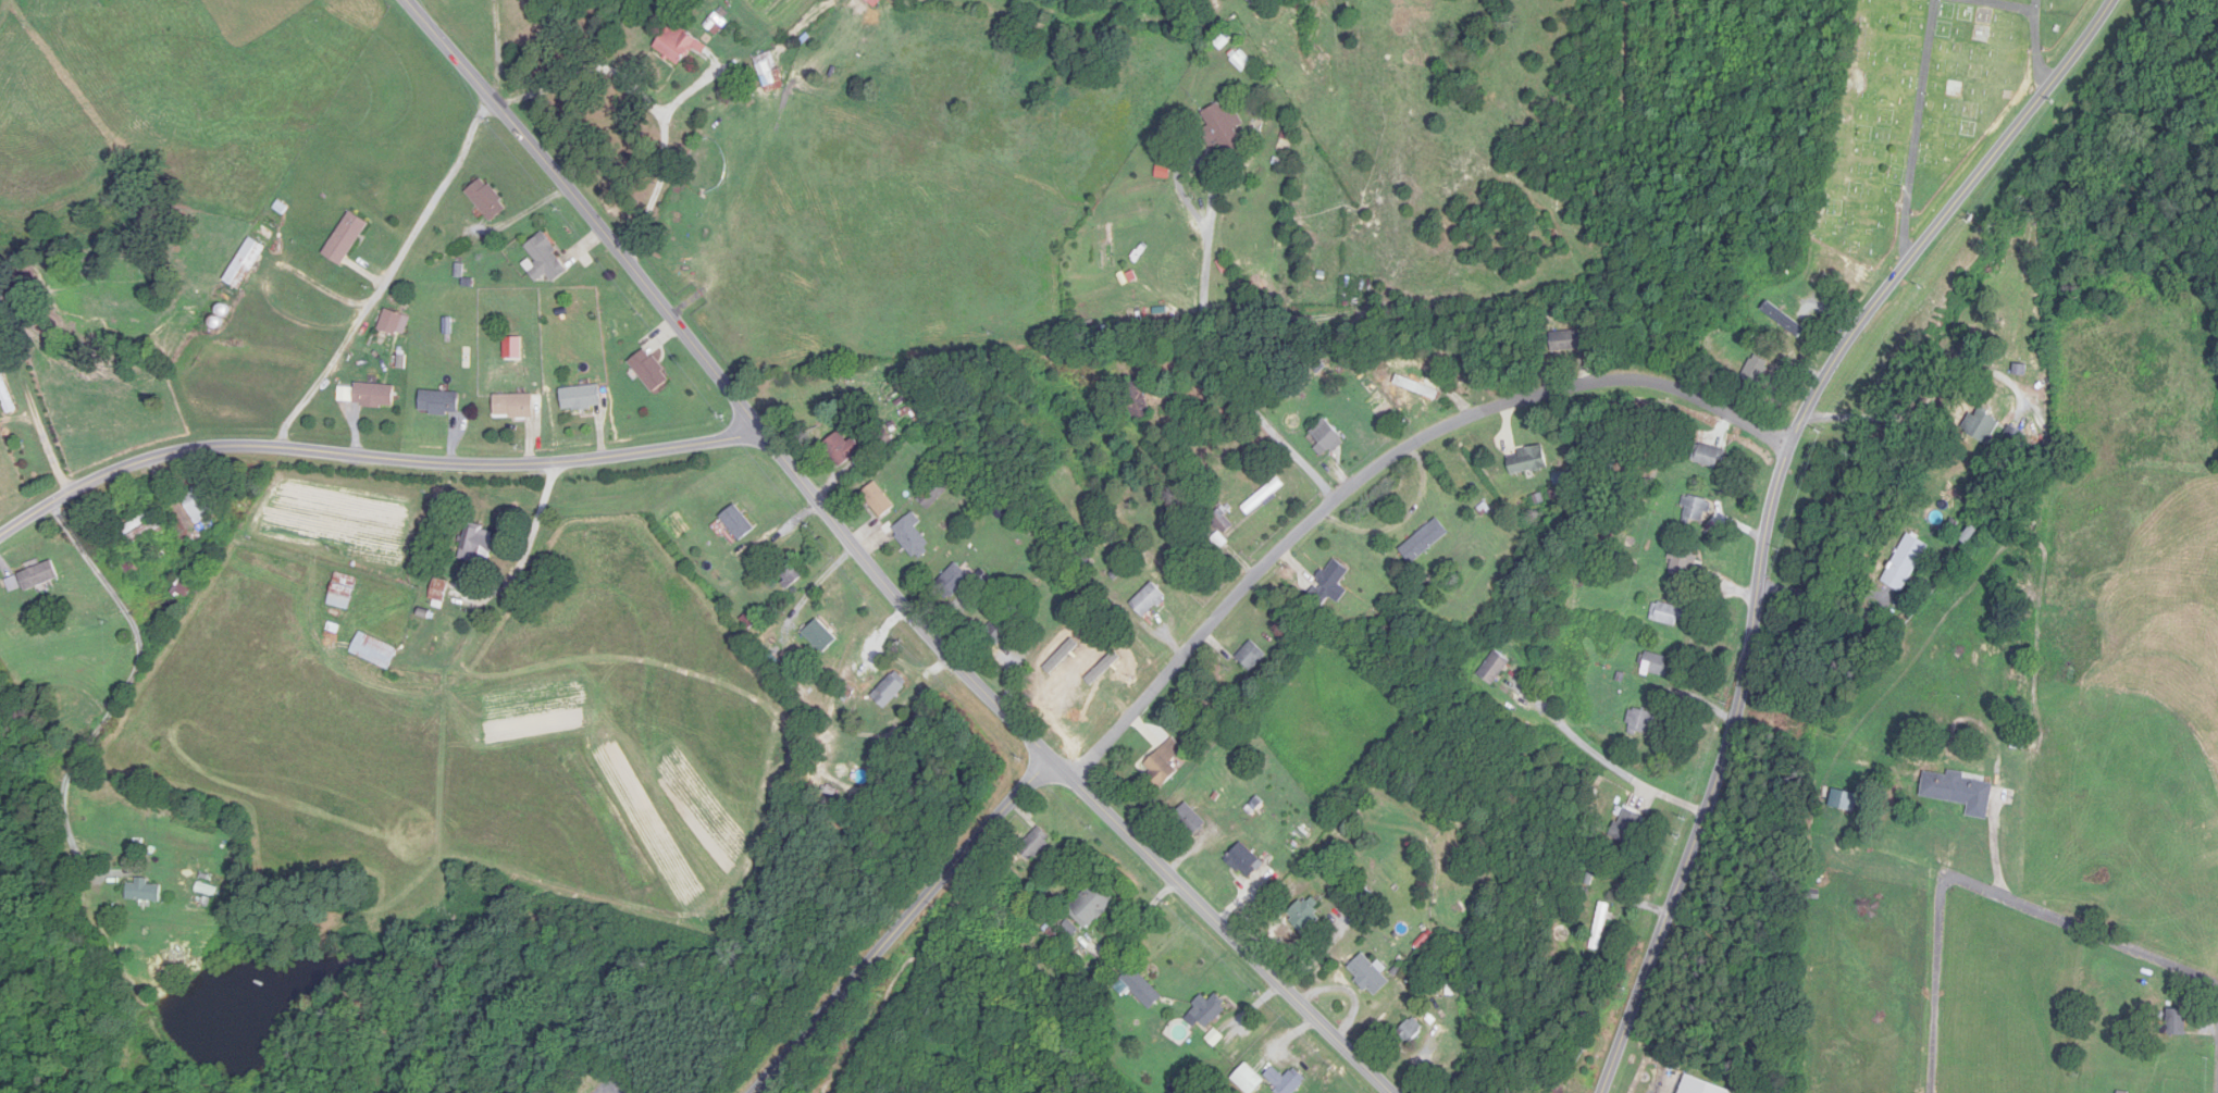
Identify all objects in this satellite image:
building: (679, 45)
road: (498, 47)
building: (1242, 61)
road: (591, 69)
building: (771, 72)
park: (1921, 107)
building: (1222, 128)
road: (664, 159)
road: (1214, 185)
building: (487, 200)
building: (348, 238)
building: (547, 261)
building: (243, 272)
road: (389, 276)
building: (1783, 319)
building: (395, 322)
building: (1566, 340)
building: (2020, 369)
building: (1756, 370)
building: (650, 371)
building: (1420, 384)
building: (5, 395)
building: (375, 395)
building: (581, 397)
building: (1135, 398)
building: (439, 402)
road: (1925, 402)
building: (513, 406)
road: (1264, 415)
building: (1983, 425)
building: (2015, 436)
building: (1326, 437)
building: (844, 449)
building: (1708, 456)
road: (373, 458)
building: (1527, 460)
road: (1380, 471)
building: (1263, 496)
building: (878, 500)
building: (199, 504)
road: (1774, 505)
building: (1695, 509)
building: (1222, 520)
building: (145, 525)
building: (913, 537)
building: (1424, 541)
building: (479, 545)
building: (1682, 561)
building: (1905, 563)
road: (872, 569)
building: (791, 572)
building: (1331, 574)
building: (39, 575)
building: (952, 582)
building: (186, 584)
building: (344, 591)
building: (439, 594)
road: (1824, 596)
building: (1147, 600)
building: (1668, 614)
building: (1001, 628)
building: (375, 651)
building: (1251, 656)
building: (2020, 663)
building: (1656, 666)
building: (1492, 668)
building: (1057, 685)
building: (889, 688)
road: (126, 690)
building: (1639, 721)
road: (1599, 759)
building: (1164, 762)
building: (1960, 792)
building: (1844, 800)
building: (1190, 821)
building: (1627, 827)
building: (1034, 844)
building: (1246, 861)
building: (207, 890)
building: (146, 892)
building: (1092, 905)
building: (1302, 916)
building: (1602, 917)
road: (903, 927)
road: (2089, 930)
building: (1367, 974)
road: (1938, 984)
building: (1142, 989)
building: (1210, 1010)
building: (2176, 1022)
building: (1409, 1031)
building: (1216, 1035)
building: (1287, 1082)
building: (1699, 1086)

